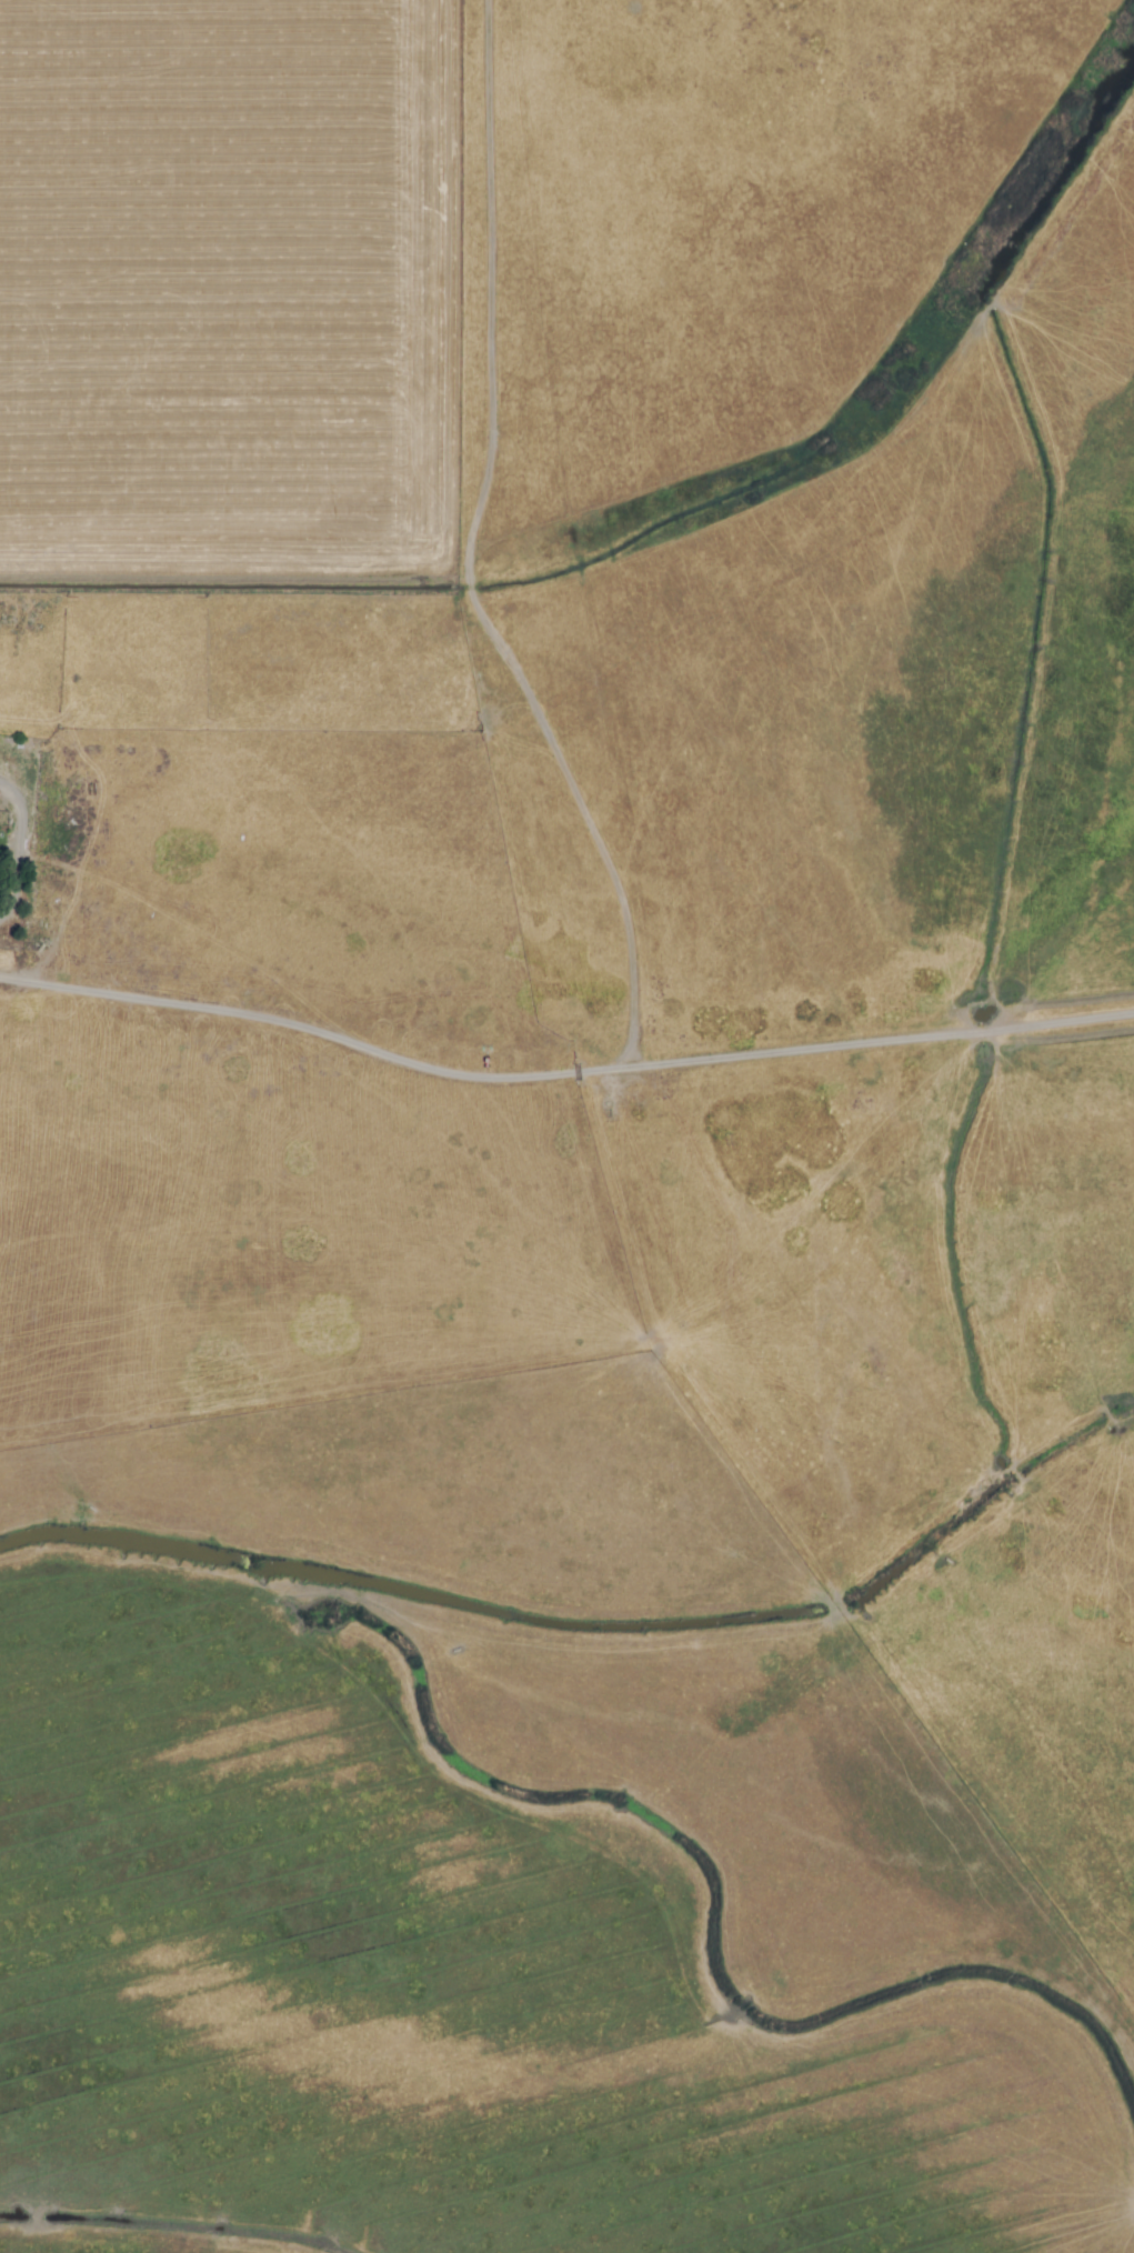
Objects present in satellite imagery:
road: (17, 811)
road: (50, 985)

